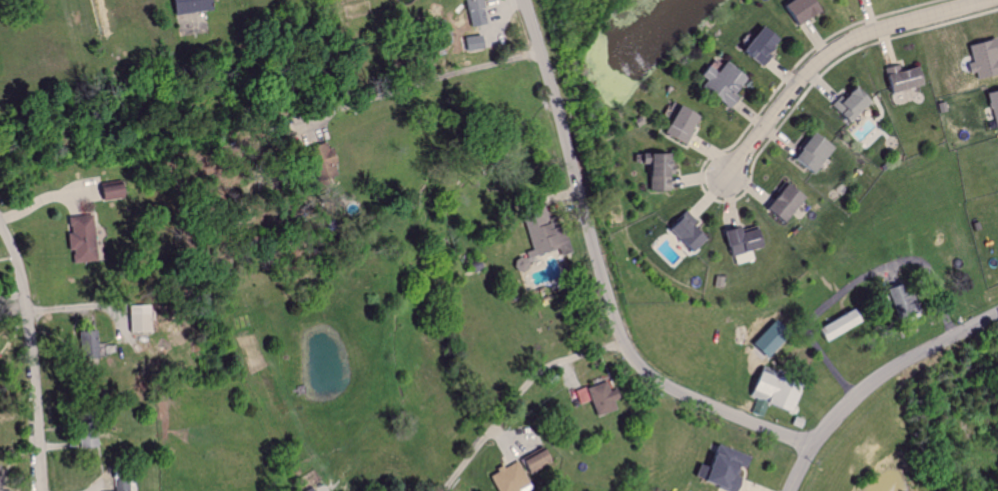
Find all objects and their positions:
building: (470, 5)
building: (187, 6)
building: (796, 10)
building: (478, 17)
building: (471, 44)
building: (754, 47)
road: (826, 51)
building: (981, 59)
road: (430, 78)
building: (899, 79)
building: (720, 83)
building: (848, 103)
building: (992, 106)
building: (677, 125)
building: (806, 154)
building: (319, 160)
building: (657, 171)
road: (47, 198)
building: (780, 202)
building: (685, 232)
building: (77, 234)
building: (542, 234)
building: (741, 241)
road: (602, 275)
road: (855, 280)
building: (135, 318)
building: (834, 325)
building: (83, 343)
road: (29, 356)
road: (874, 381)
road: (517, 395)
building: (600, 396)
building: (82, 437)
building: (536, 460)
building: (719, 467)
building: (120, 484)
building: (7, 490)

